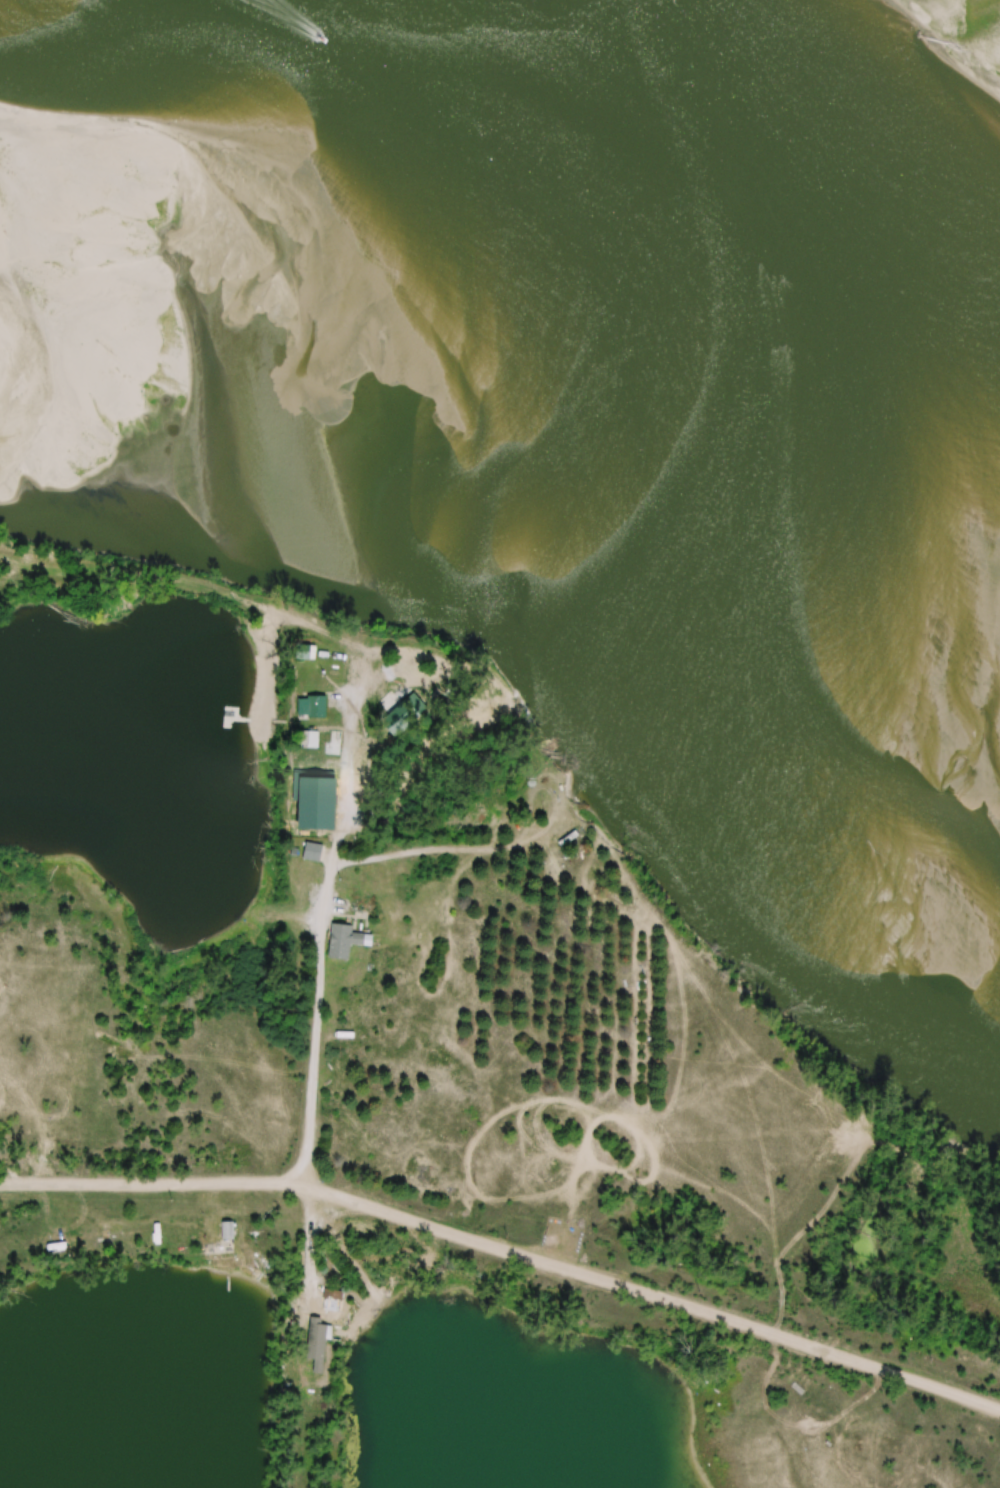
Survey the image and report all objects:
river: (474, 536)
road: (99, 565)
road: (358, 651)
building: (313, 706)
road: (454, 845)
building: (313, 851)
building: (345, 941)
road: (321, 946)
building: (263, 1232)
road: (312, 1247)
road: (506, 1254)
building: (334, 1300)
building: (319, 1342)

